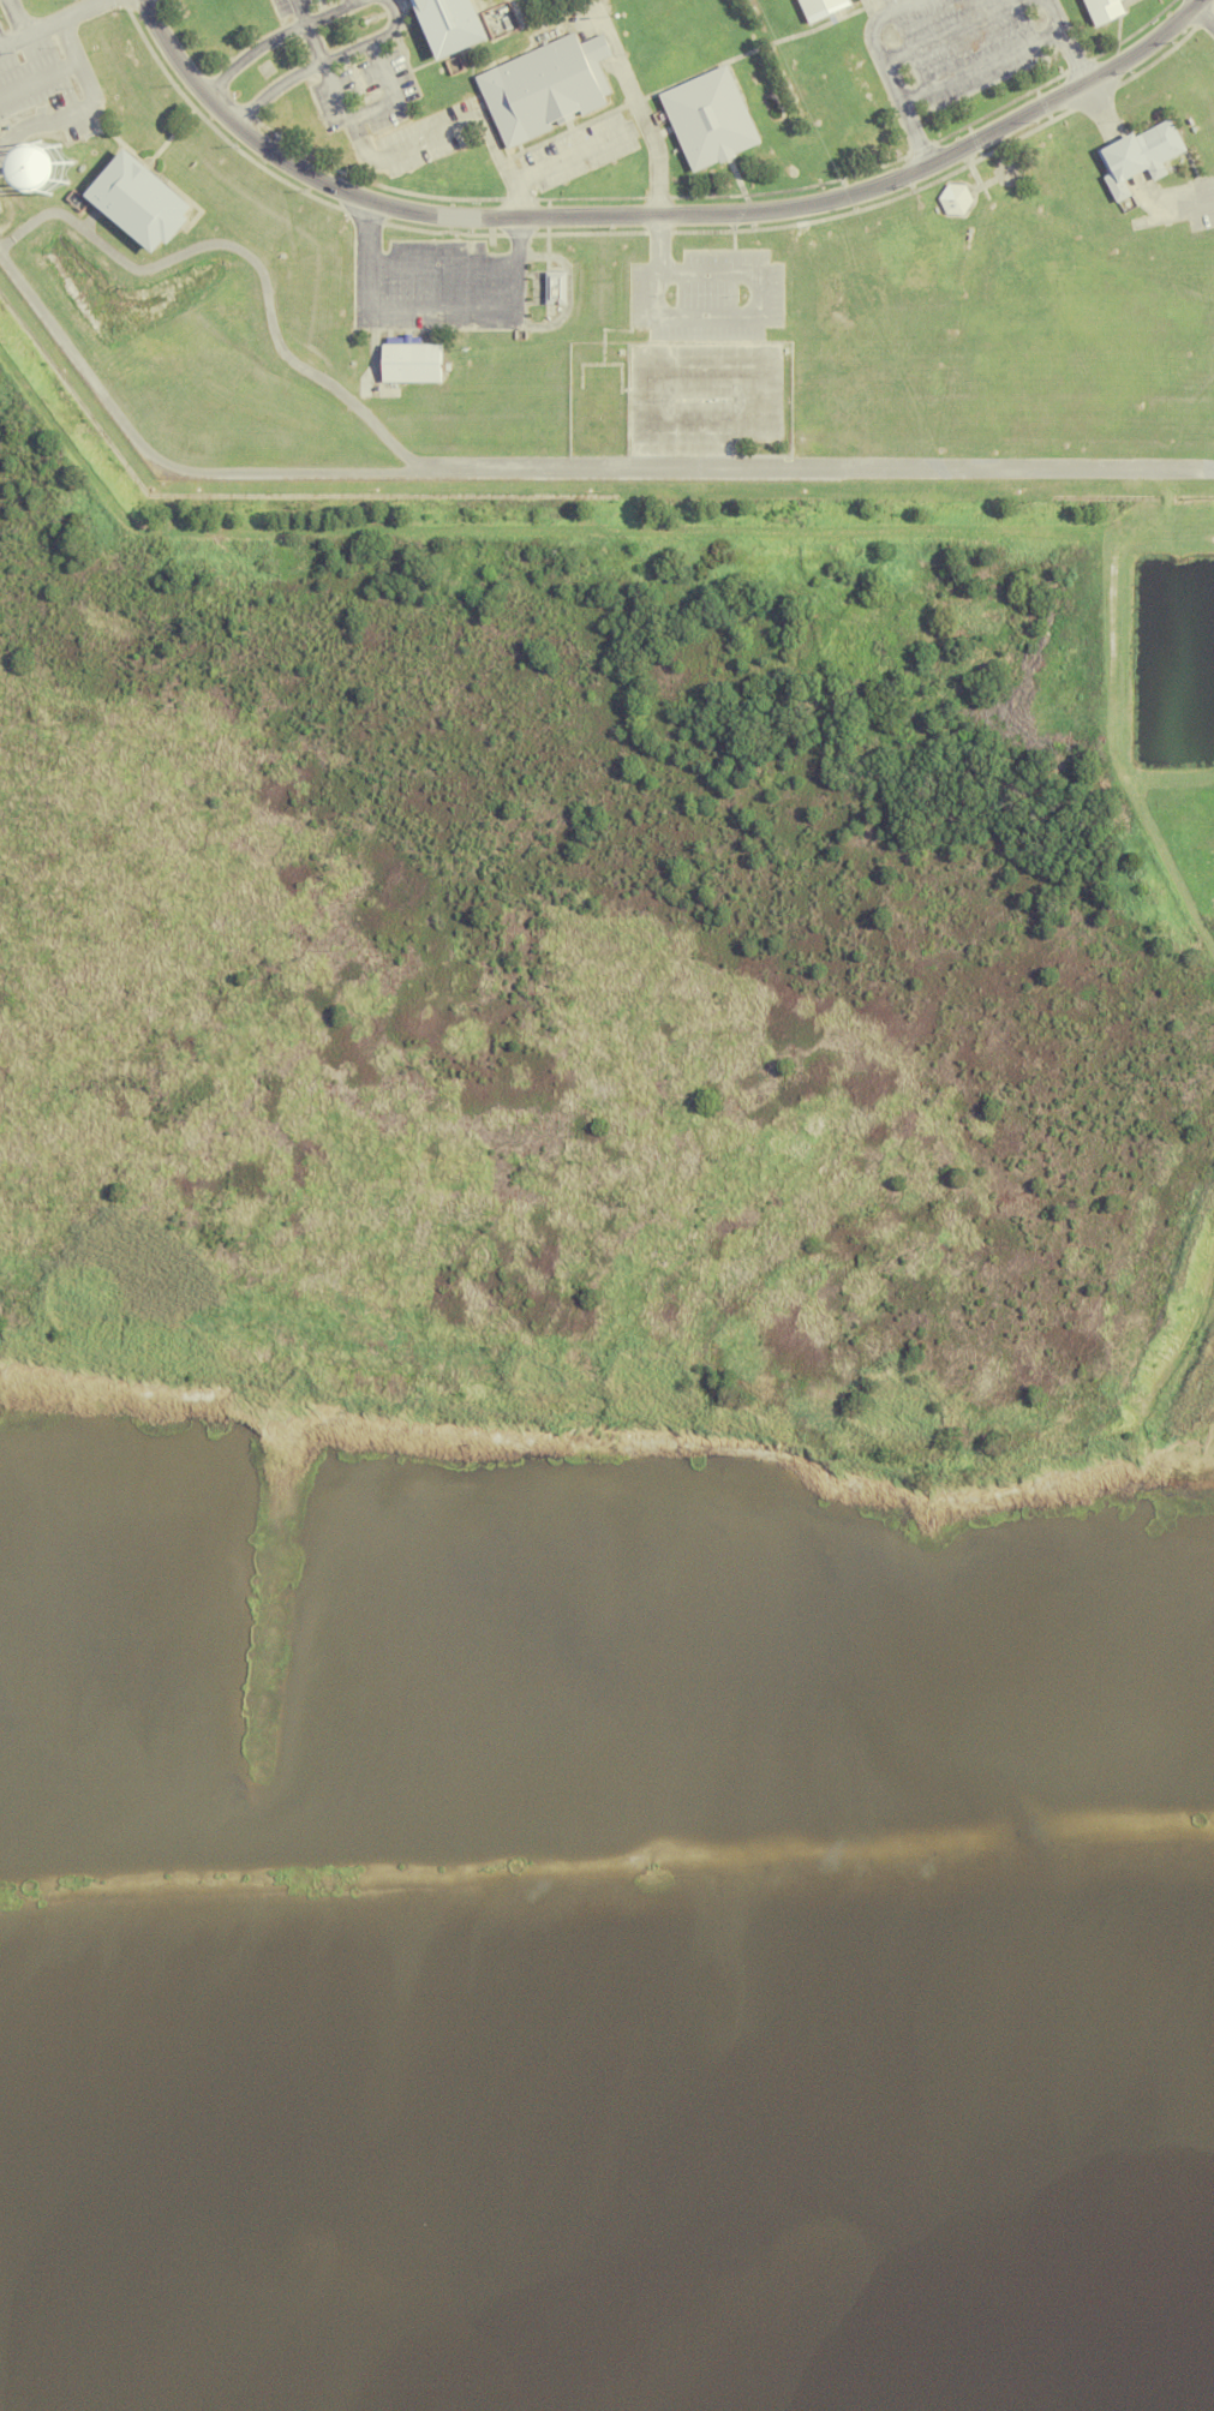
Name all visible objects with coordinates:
road: (1195, 2)
building: (820, 7)
building: (1102, 11)
road: (1206, 14)
road: (11, 20)
building: (448, 26)
road: (275, 36)
road: (1064, 40)
road: (324, 61)
road: (885, 73)
building: (544, 88)
road: (395, 94)
road: (351, 120)
building: (708, 120)
road: (654, 142)
building: (1138, 158)
building: (43, 164)
water tower: (43, 164)
road: (552, 164)
building: (1006, 172)
building: (17, 179)
building: (953, 198)
building: (137, 207)
road: (657, 215)
building: (1138, 223)
road: (244, 255)
building: (554, 288)
building: (409, 361)
road: (552, 473)

